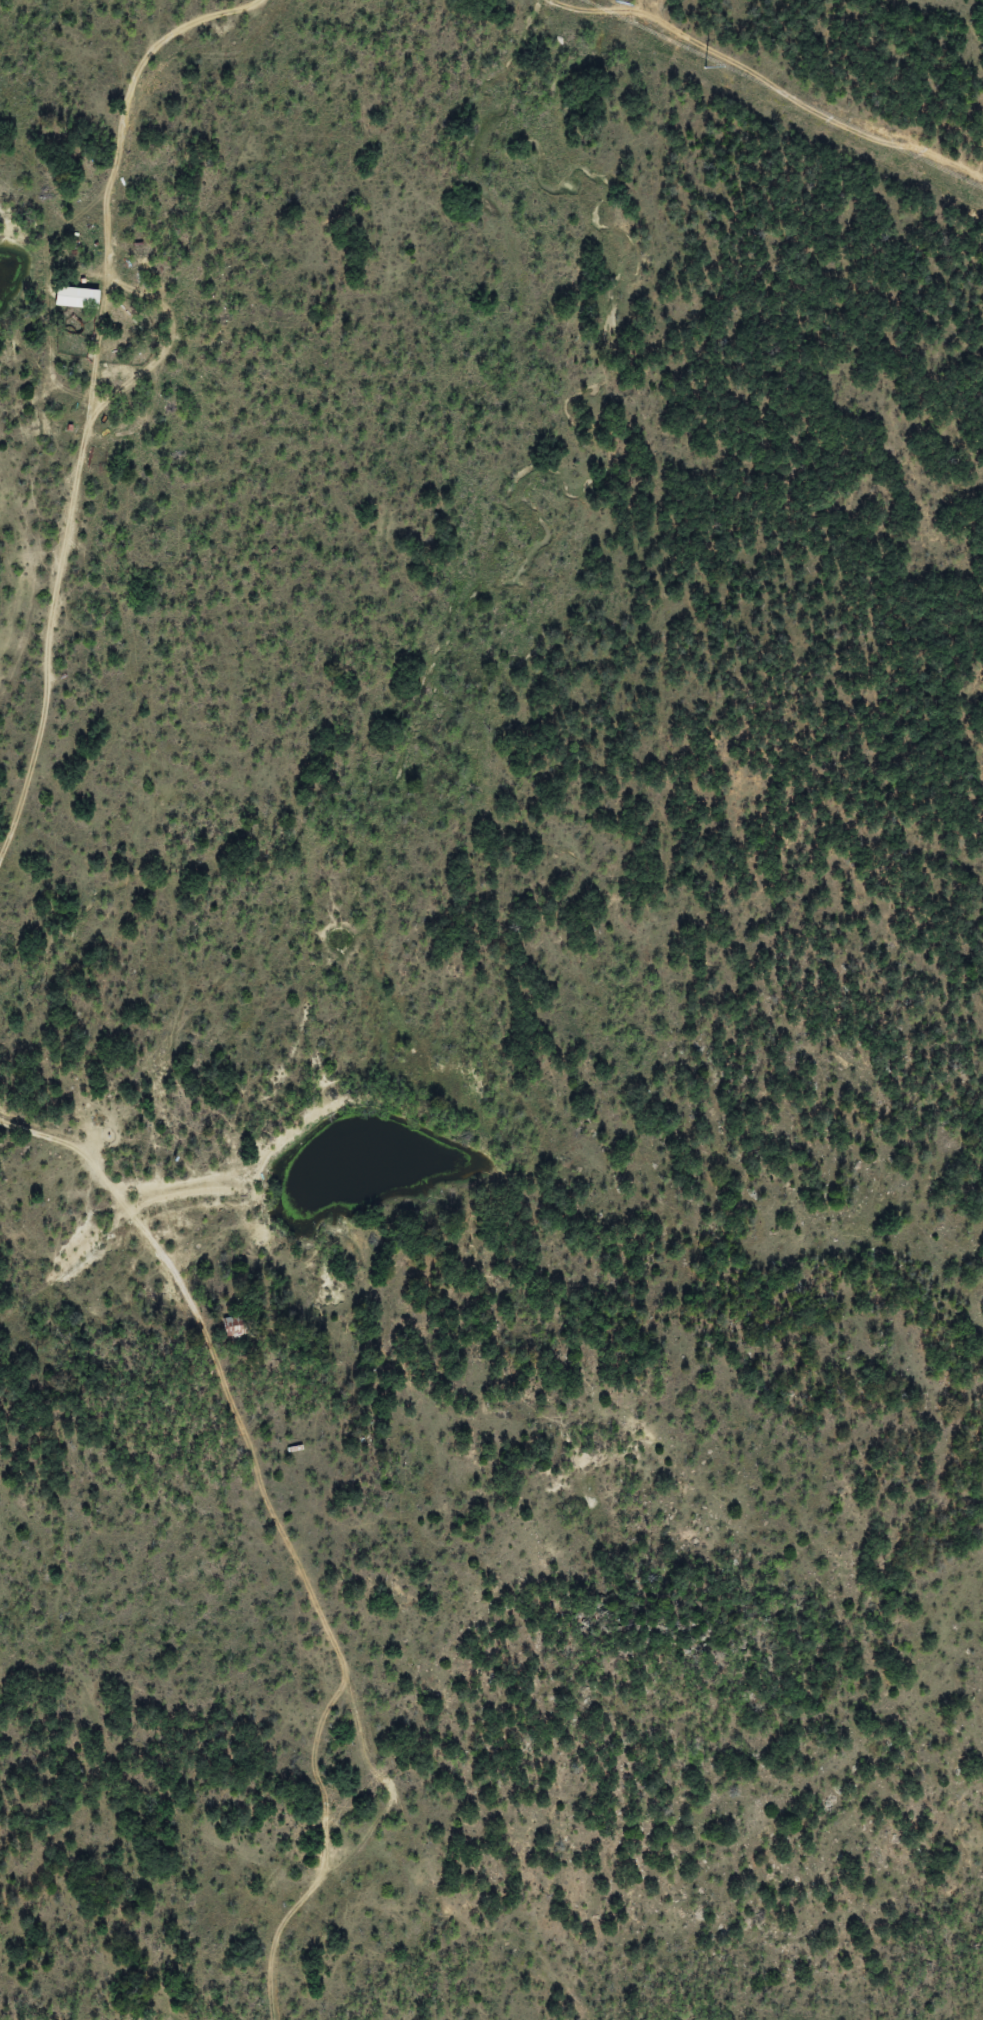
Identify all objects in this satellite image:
road: (641, 27)
road: (149, 132)
road: (809, 145)

